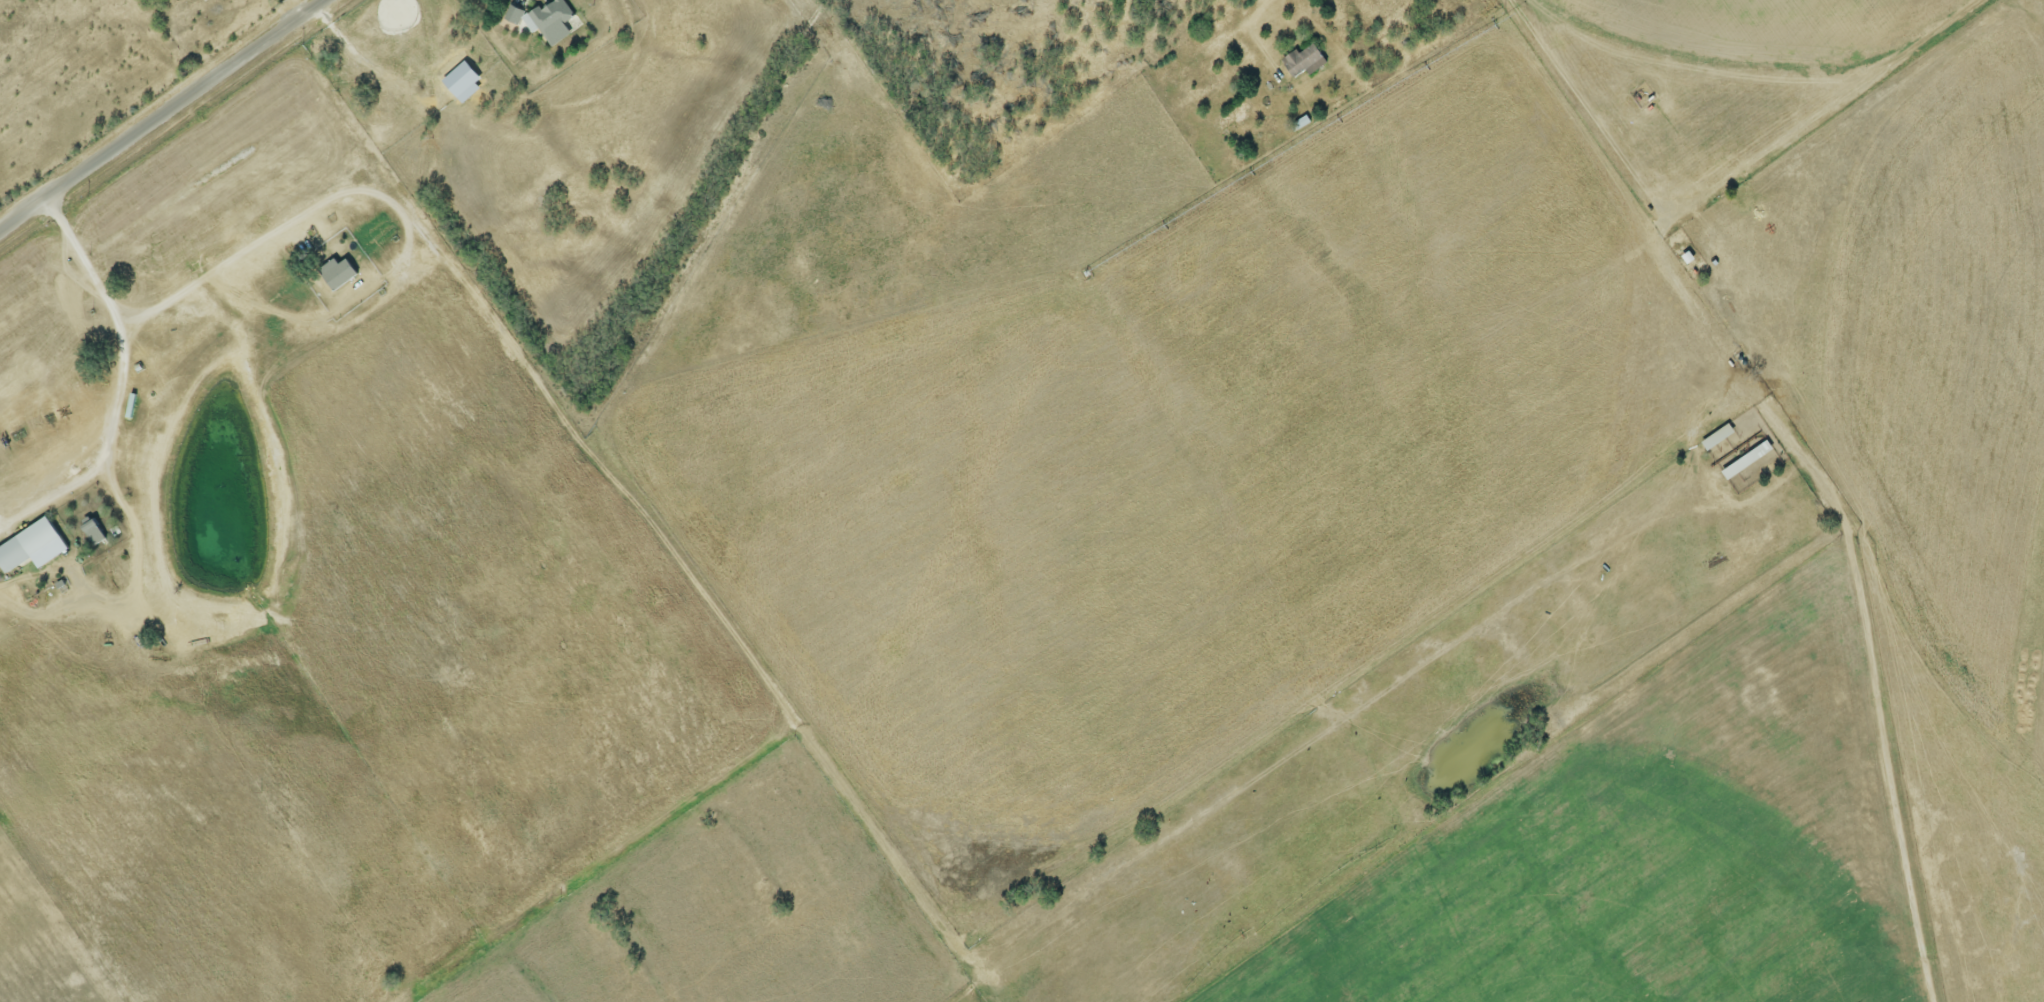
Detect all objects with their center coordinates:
road: (303, 8)
building: (516, 14)
building: (553, 21)
road: (1195, 47)
building: (1308, 60)
road: (166, 118)
building: (341, 272)
road: (338, 321)
building: (1714, 437)
road: (105, 445)
road: (1809, 463)
building: (97, 532)
building: (35, 547)

